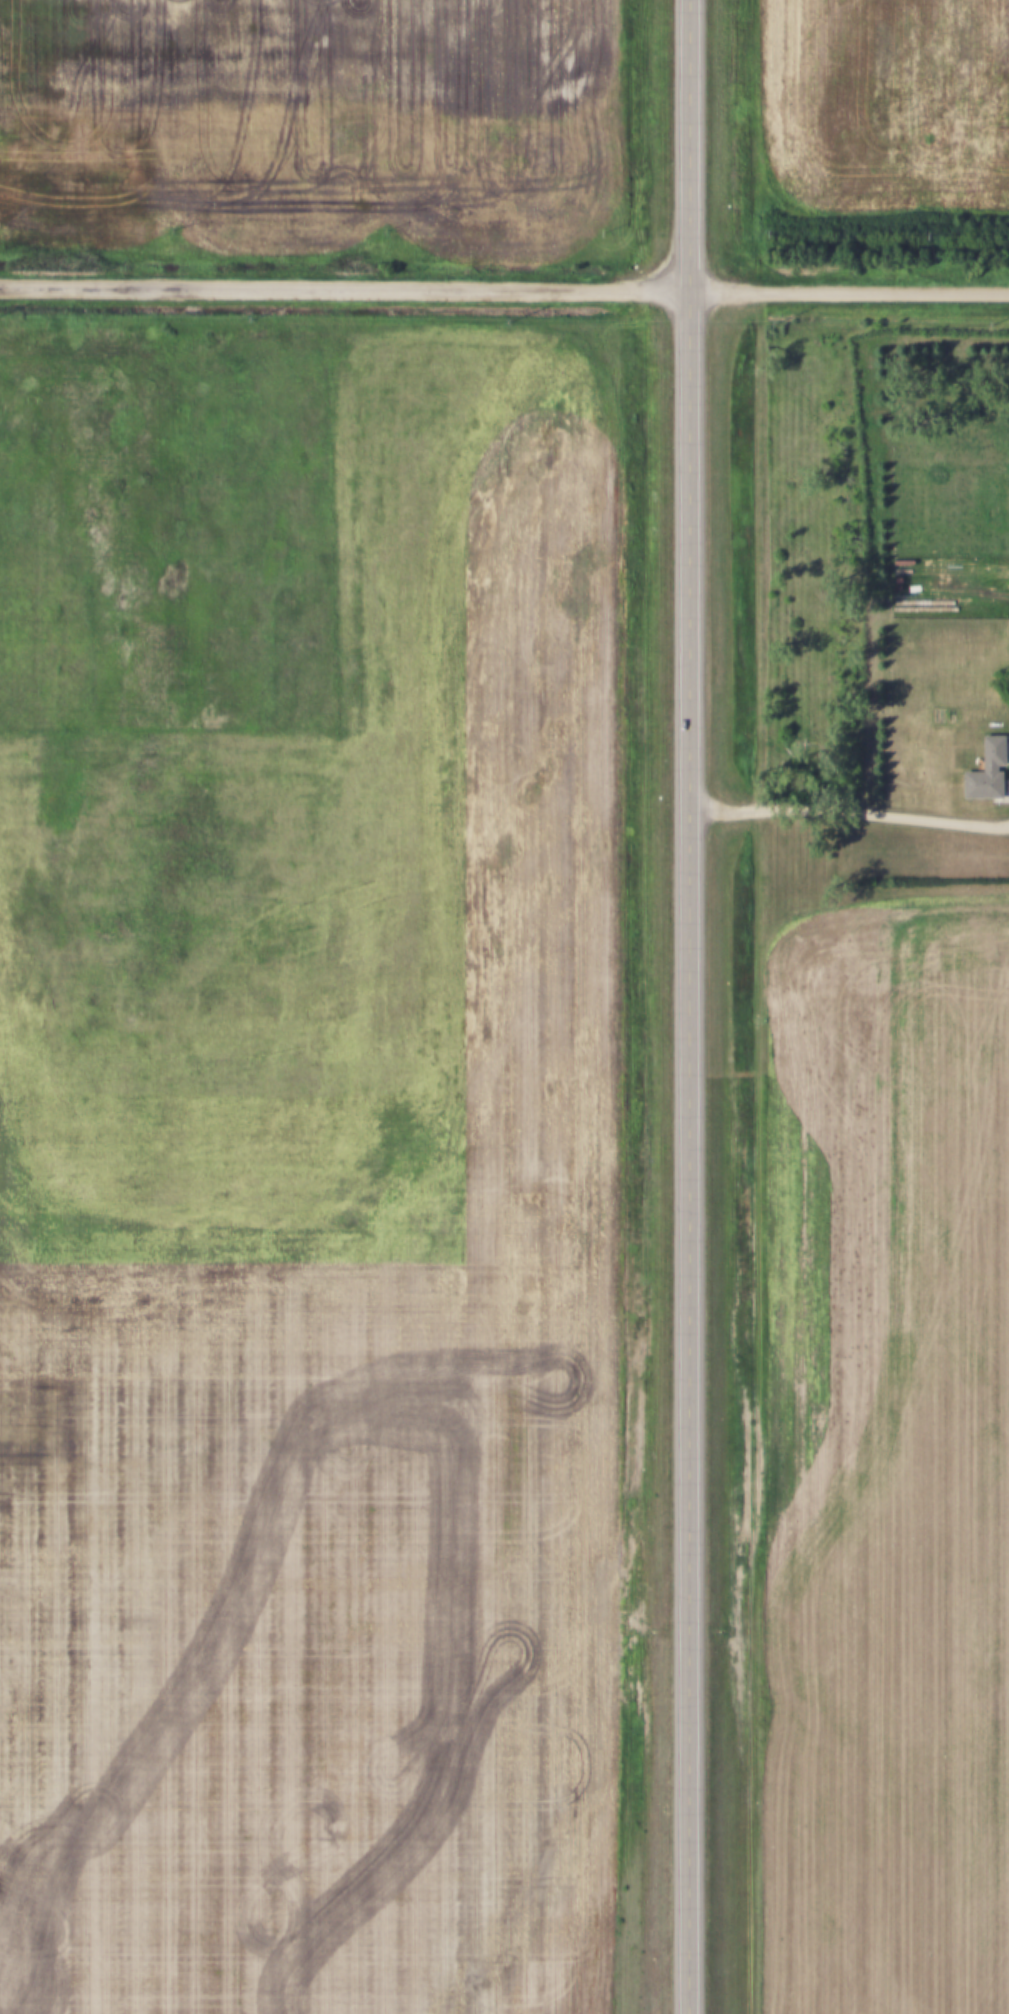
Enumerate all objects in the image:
road: (504, 287)
building: (991, 773)
road: (847, 808)
road: (686, 1007)

